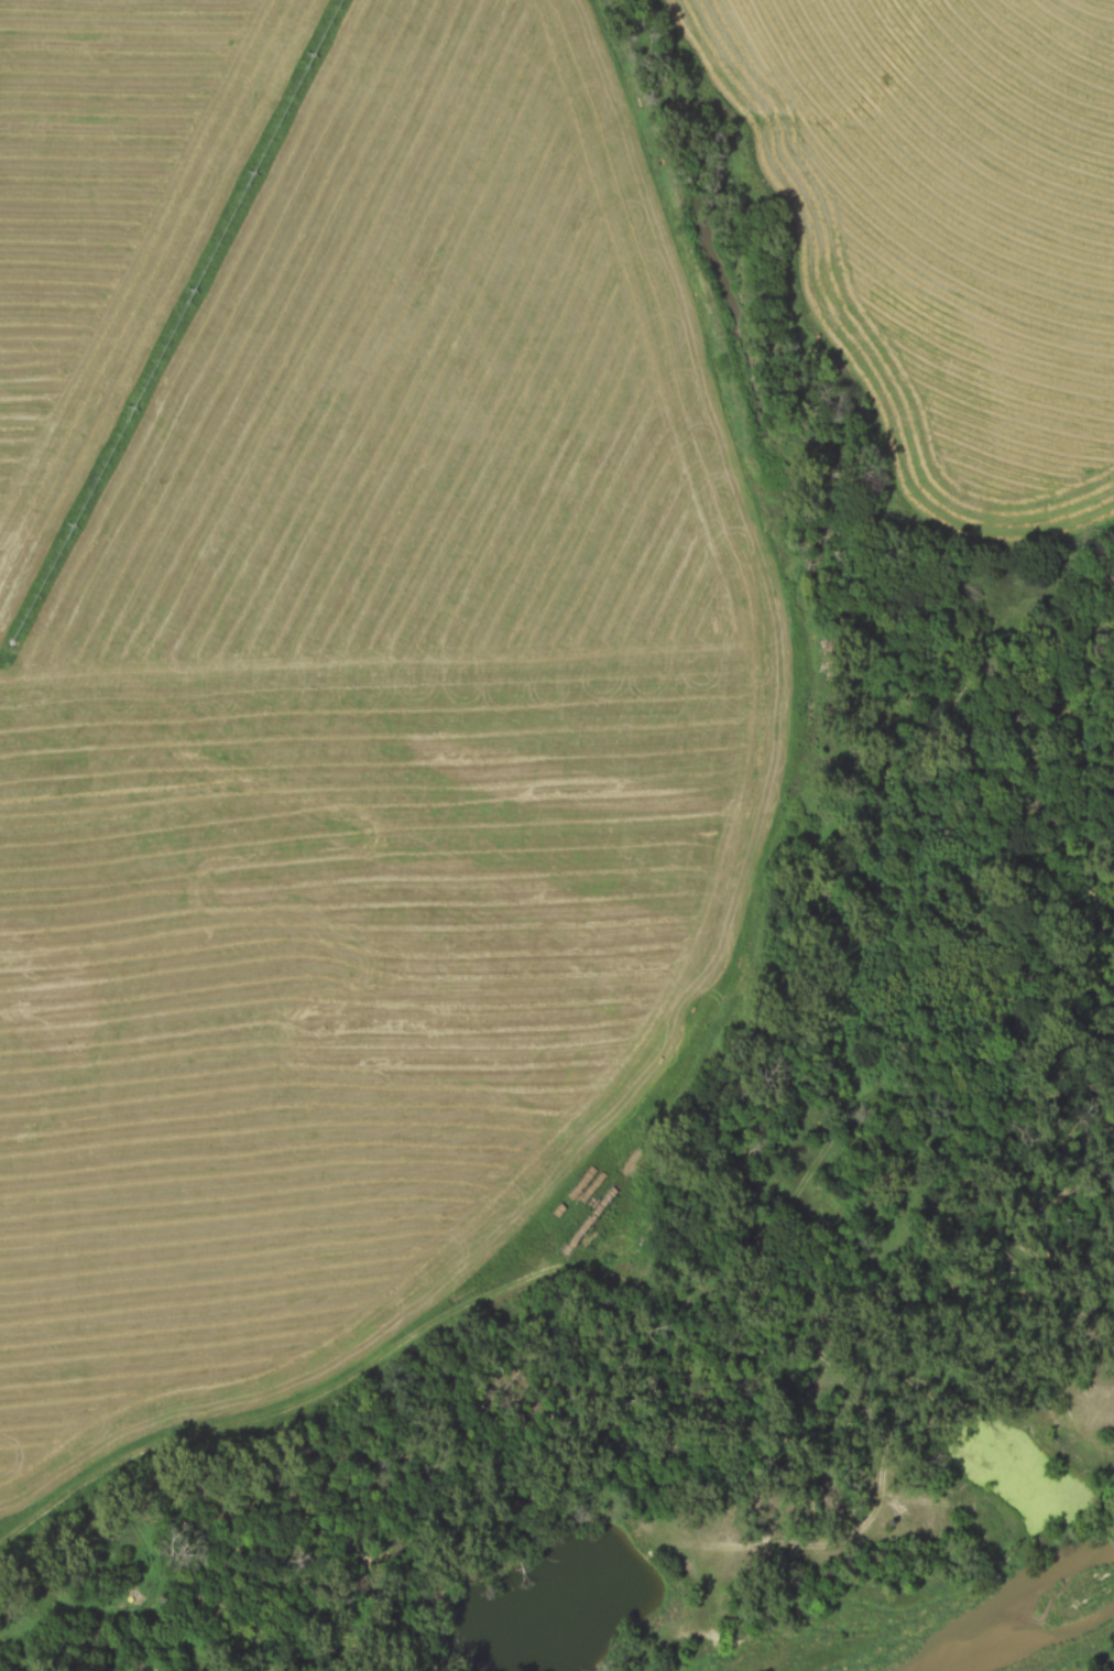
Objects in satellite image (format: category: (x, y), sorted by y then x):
river: (1019, 1616)

